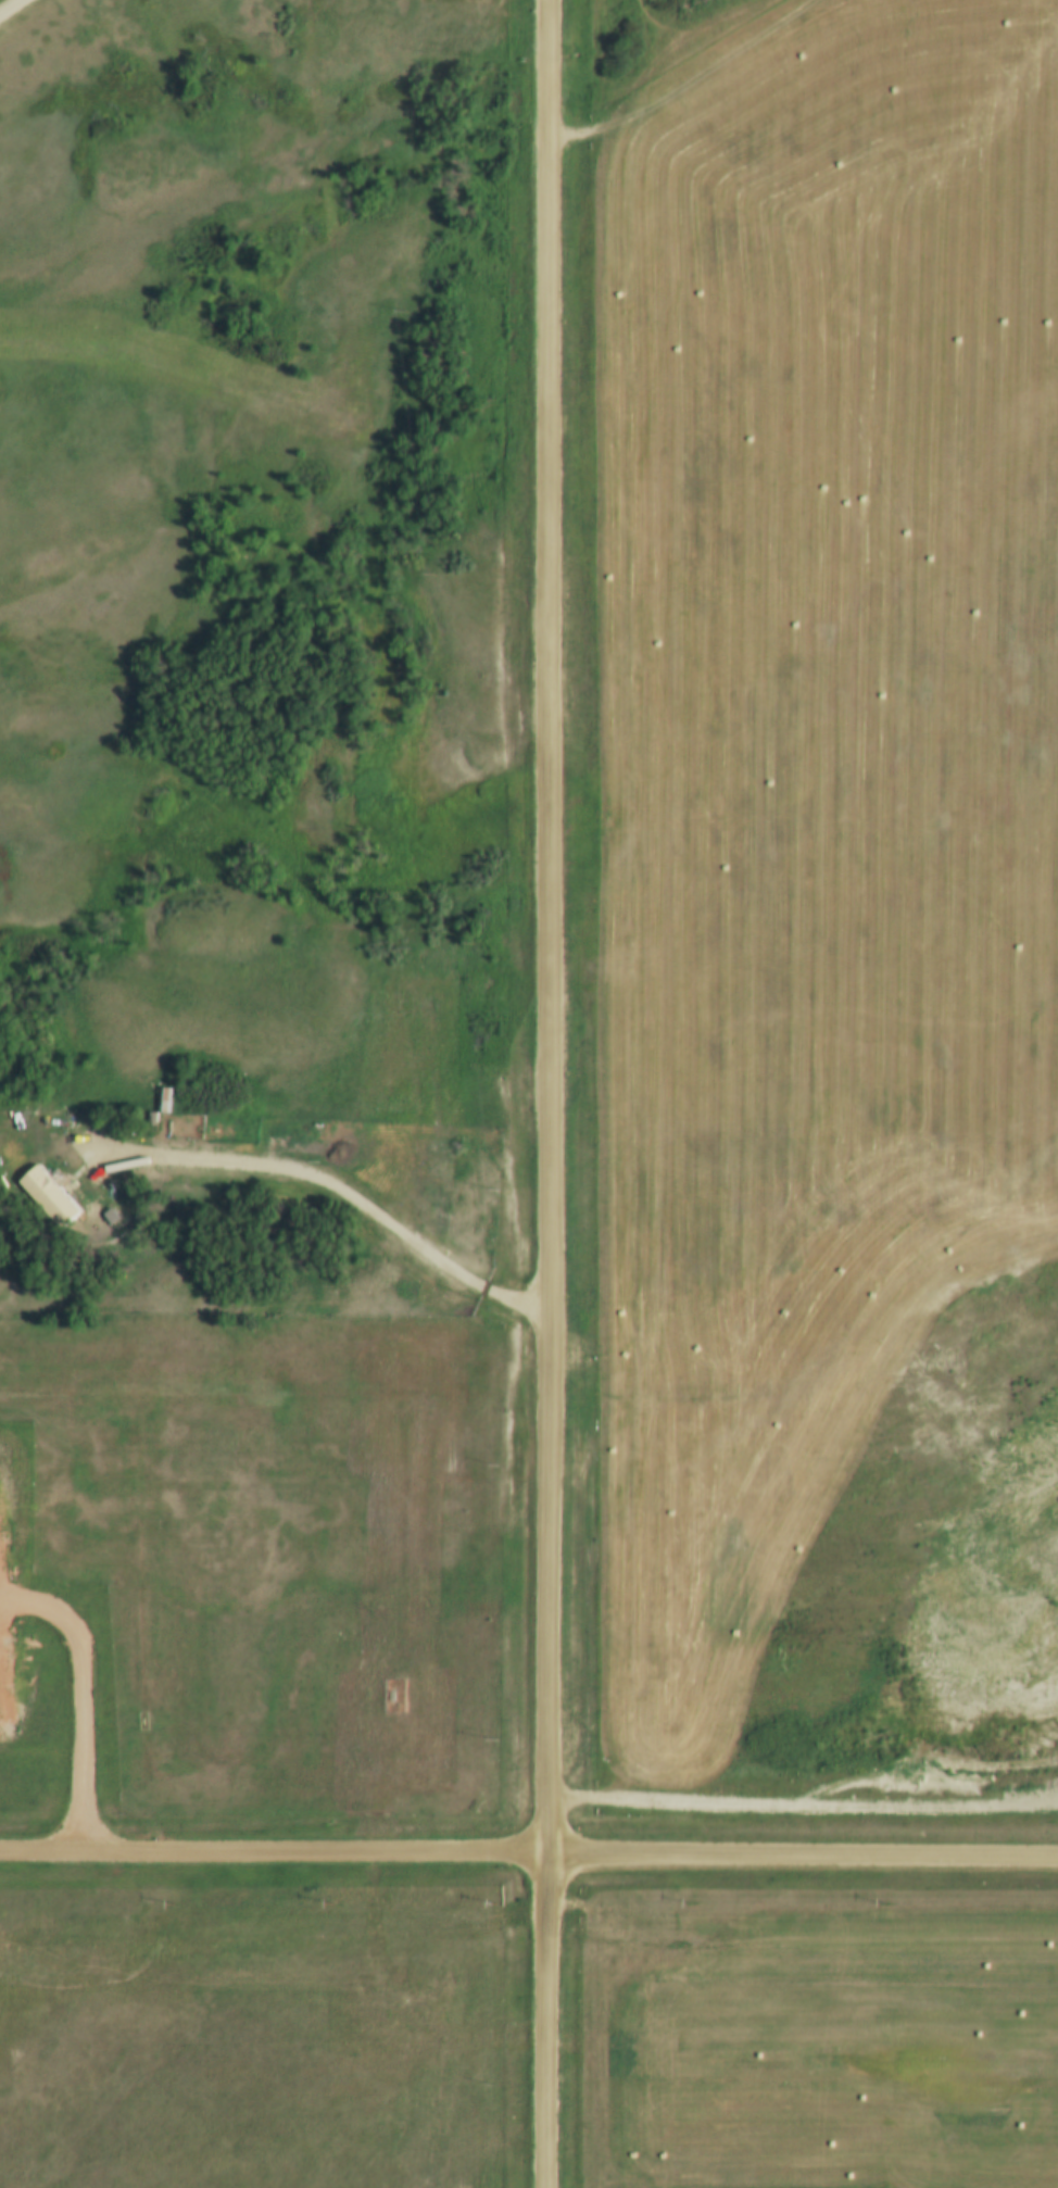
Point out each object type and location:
road: (547, 1094)
building: (163, 1098)
road: (324, 1184)
building: (51, 1206)
quarry: (973, 1543)
road: (273, 1856)
road: (802, 1859)

